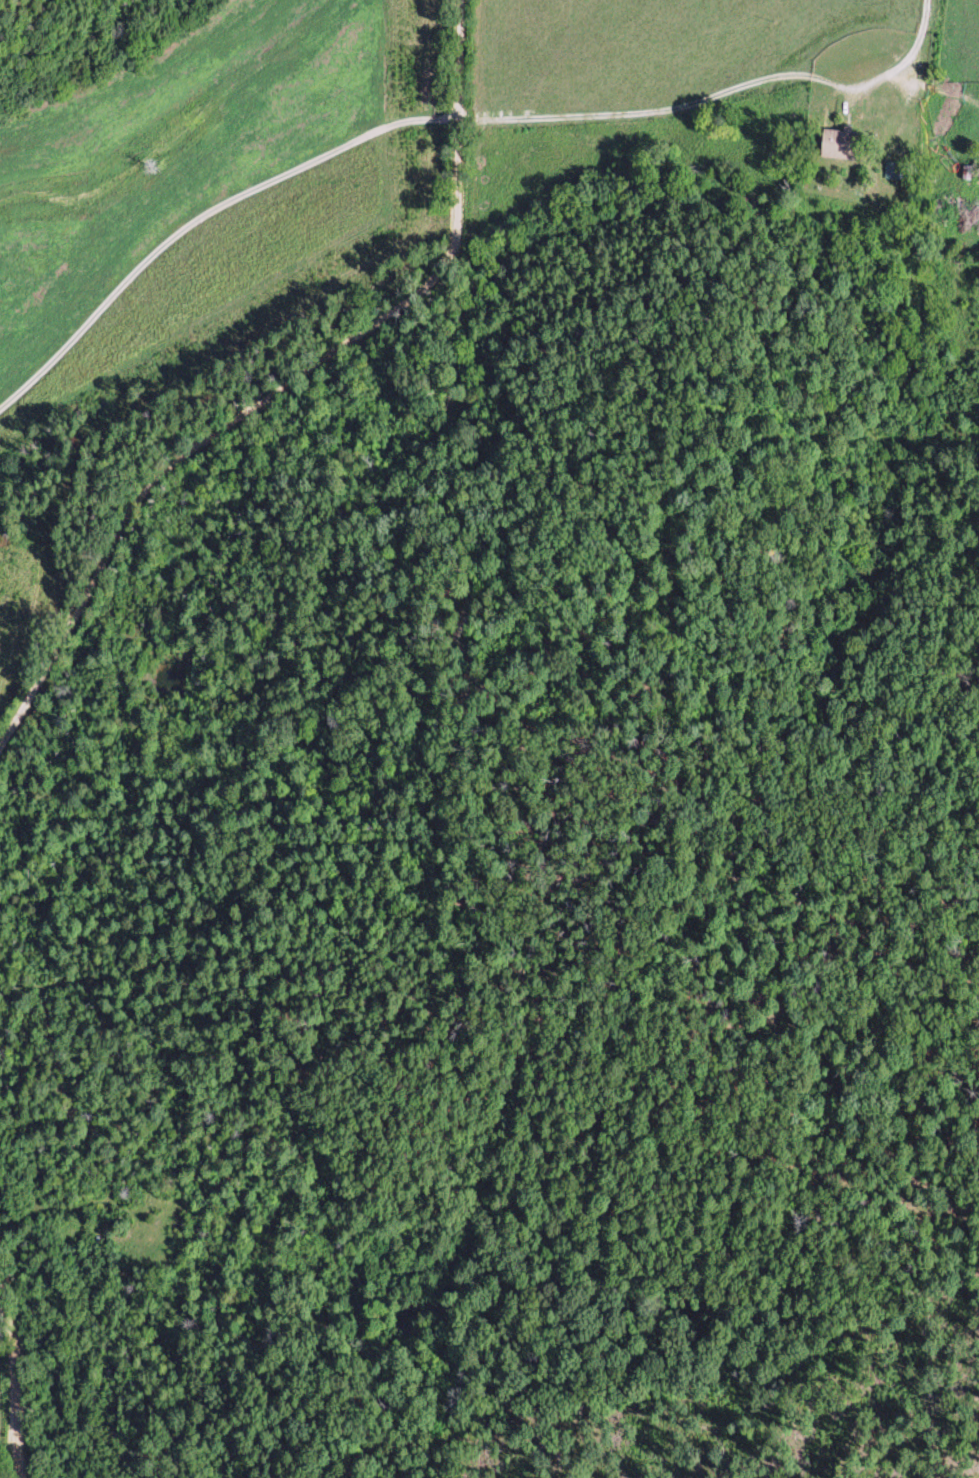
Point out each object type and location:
road: (706, 106)
building: (851, 142)
building: (907, 169)
road: (221, 174)
road: (229, 377)

